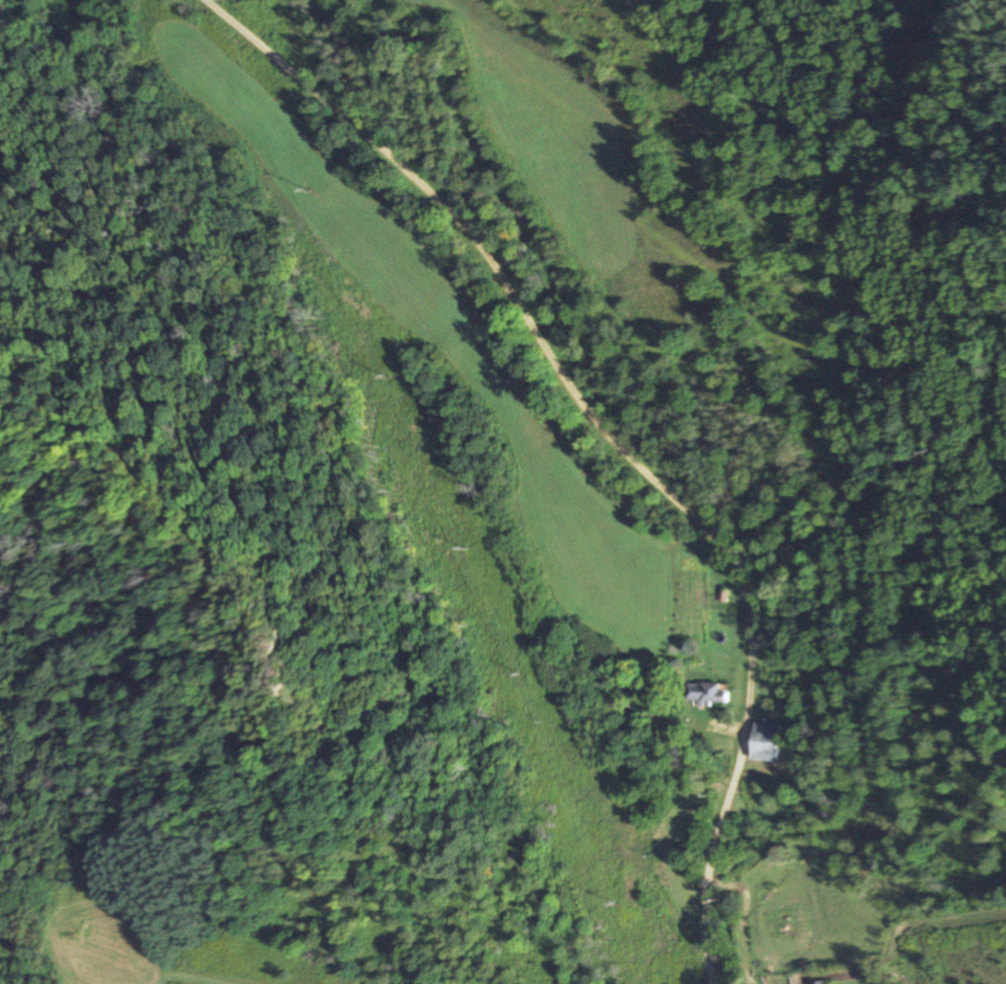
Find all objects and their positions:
road: (610, 438)
building: (707, 694)
building: (769, 743)
building: (822, 983)

